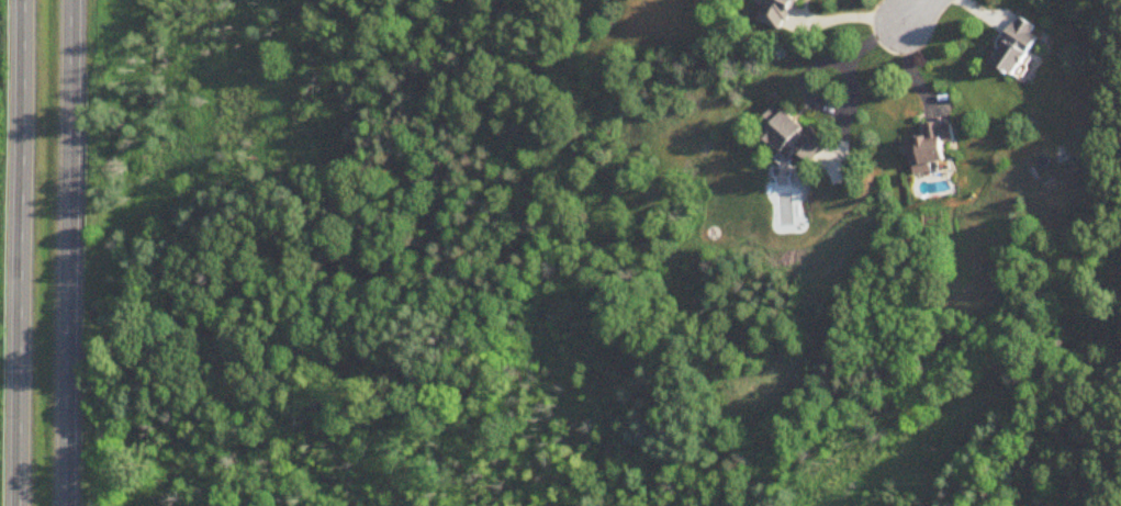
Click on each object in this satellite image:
building: (777, 13)
road: (922, 13)
building: (1019, 49)
road: (845, 57)
building: (797, 138)
building: (932, 149)
road: (23, 252)
road: (68, 252)

